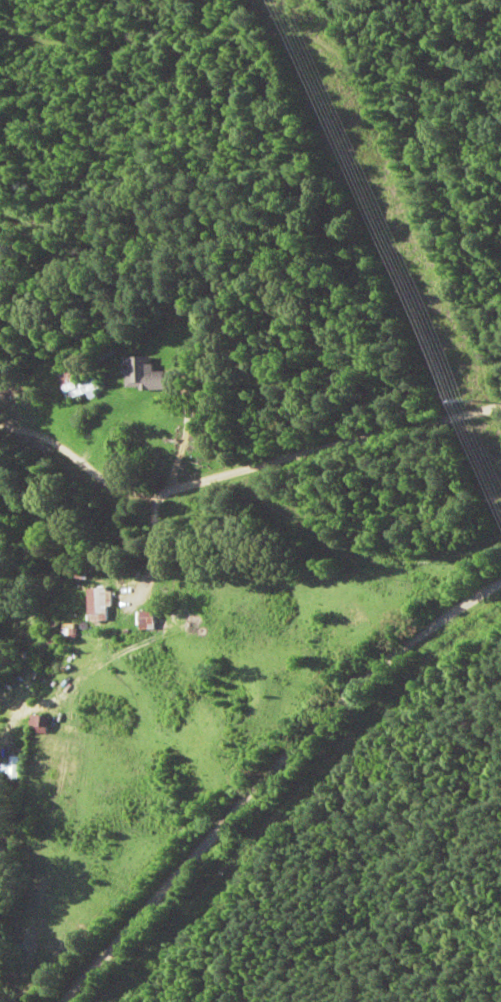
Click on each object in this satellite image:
road: (250, 46)
building: (143, 376)
building: (77, 386)
road: (251, 456)
building: (98, 605)
road: (279, 617)
building: (145, 621)
building: (38, 721)
road: (232, 743)

